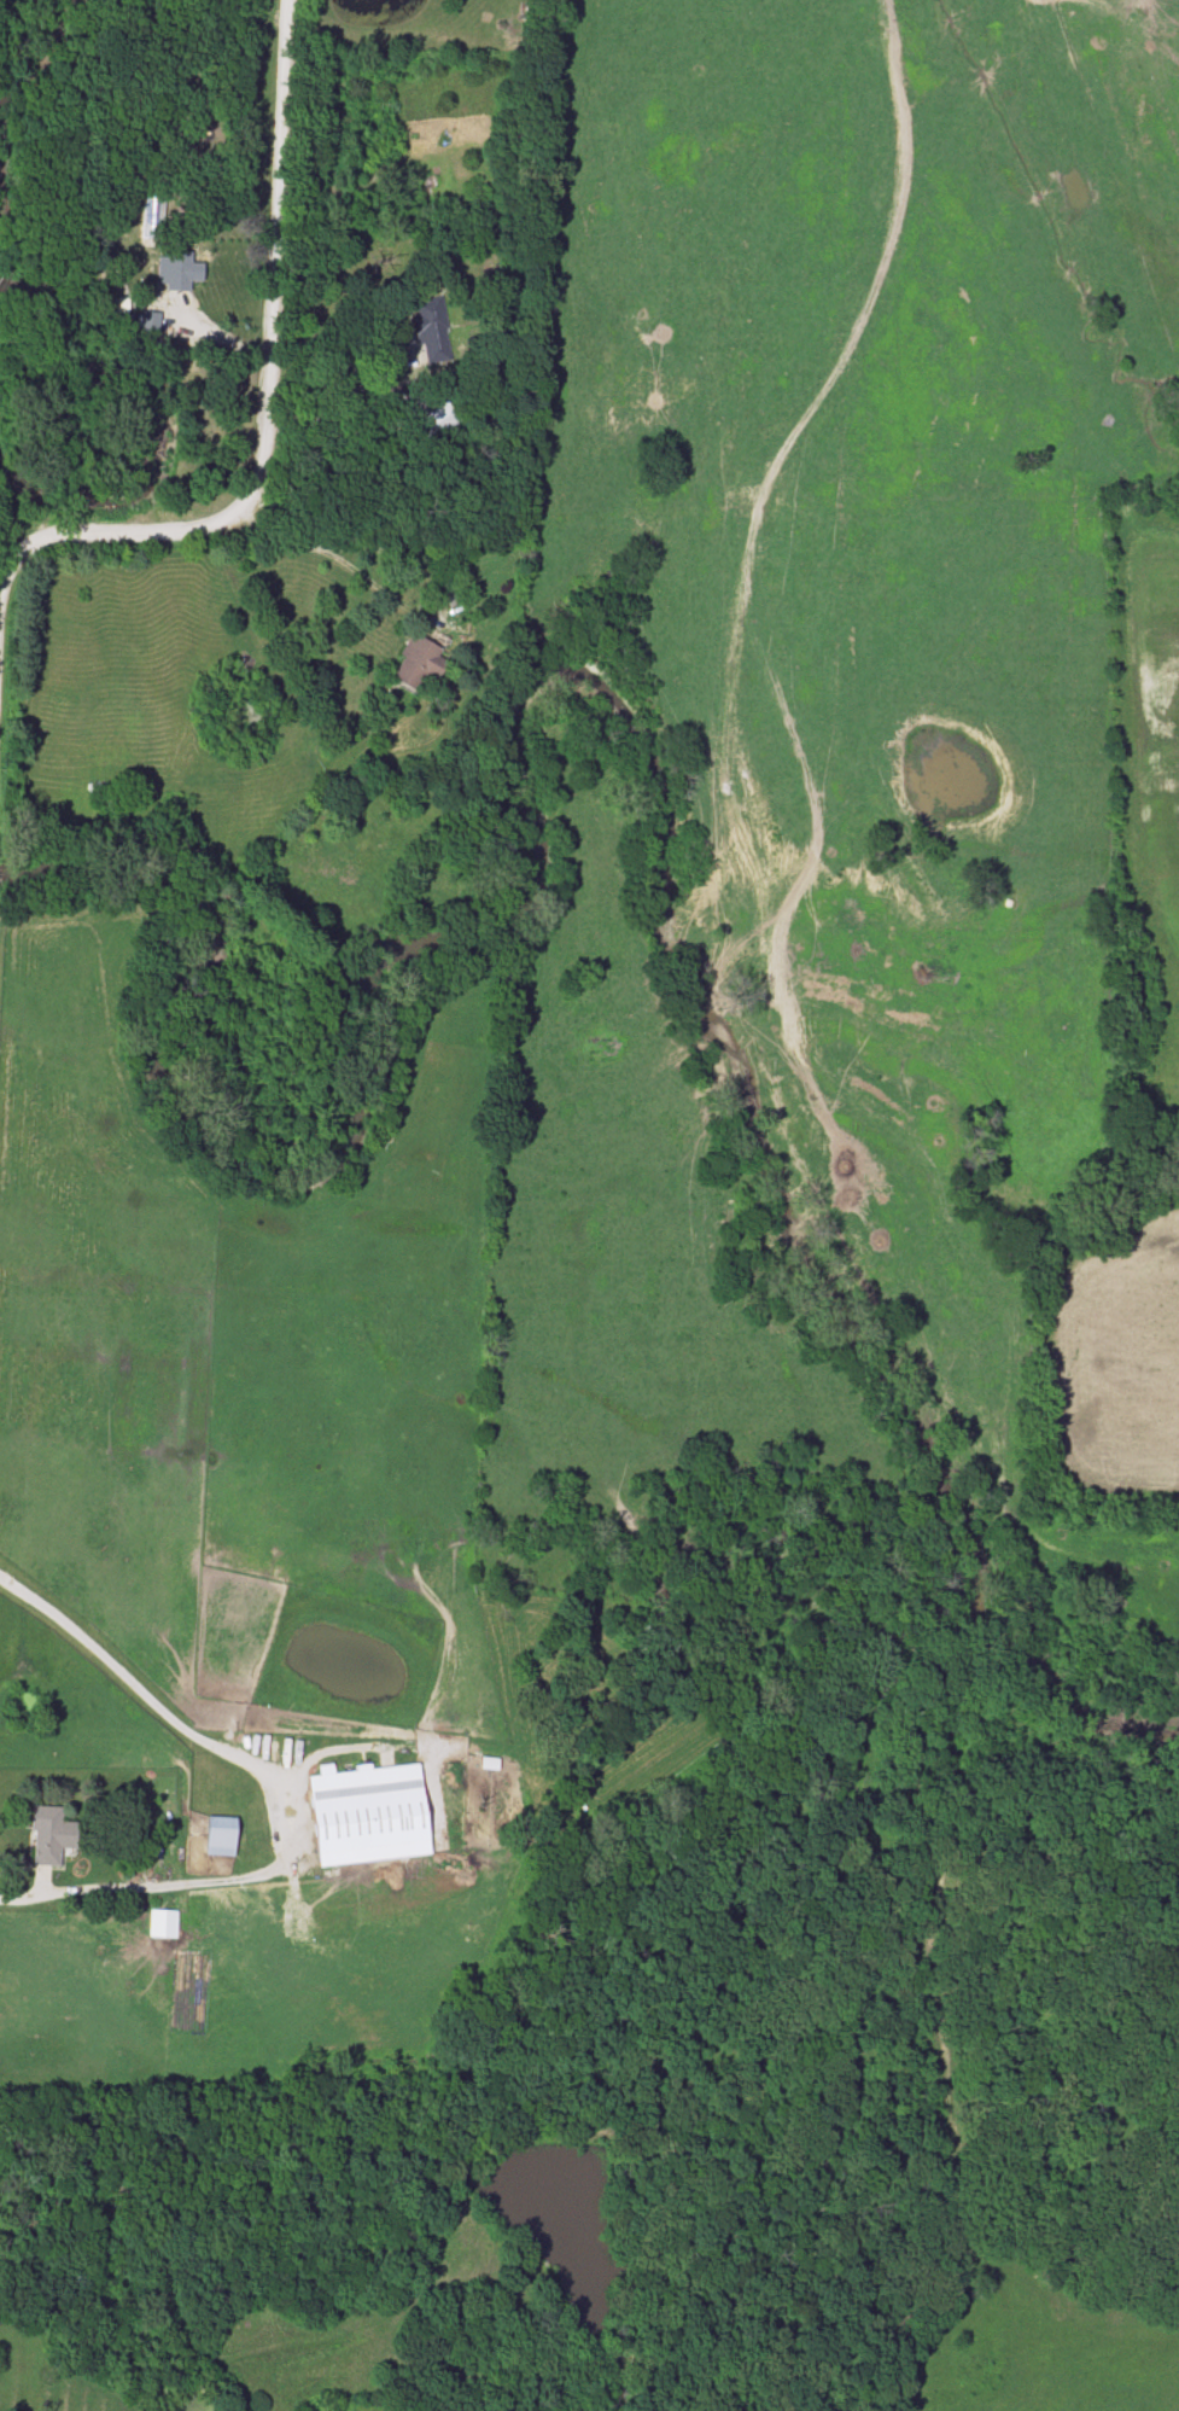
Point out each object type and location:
building: (179, 272)
road: (264, 389)
road: (327, 408)
building: (438, 421)
road: (328, 554)
building: (420, 663)
road: (280, 1788)
building: (370, 1813)
building: (51, 1836)
building: (223, 1836)
building: (146, 1846)
building: (163, 1923)

